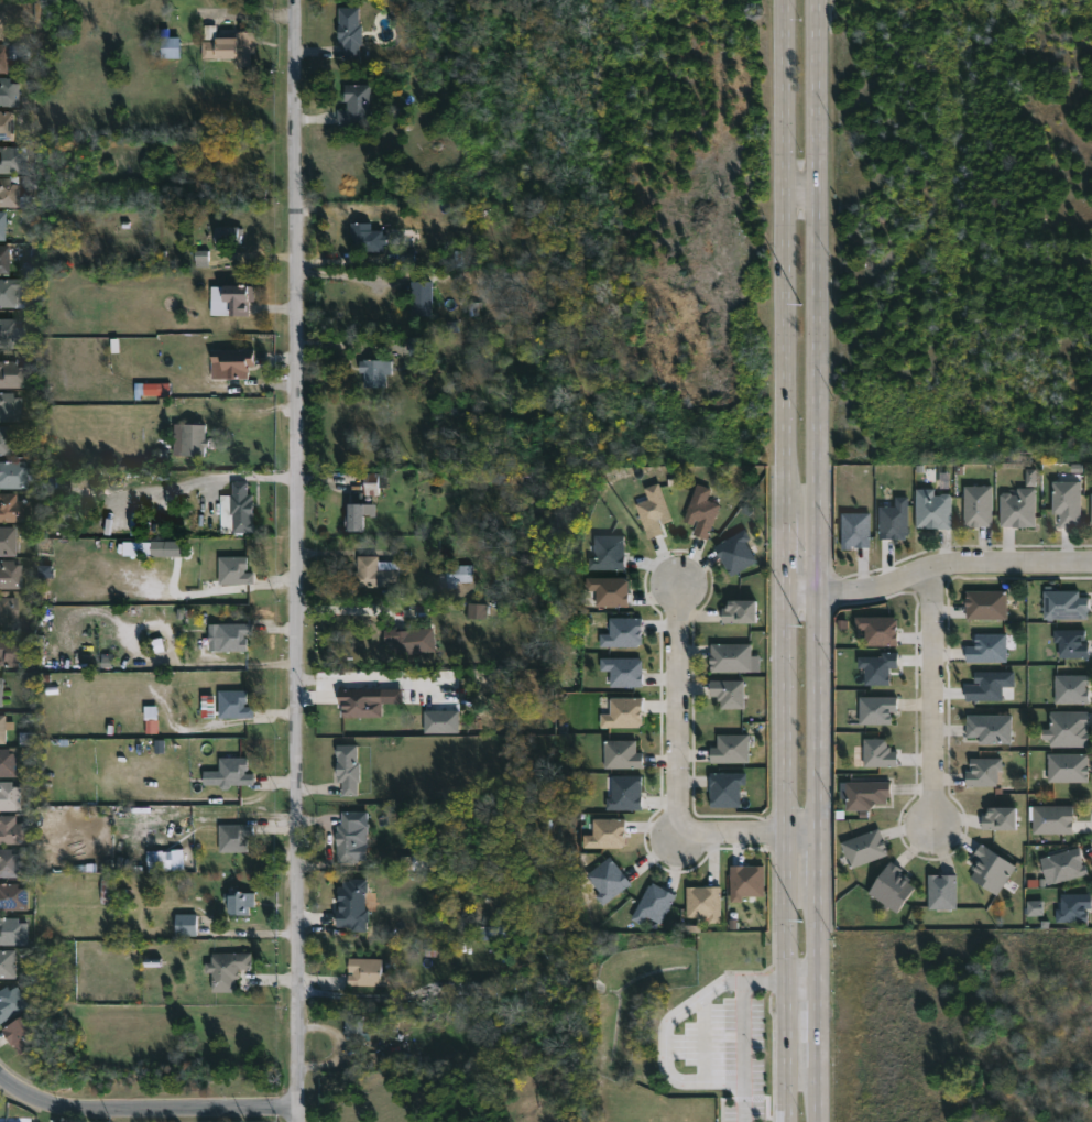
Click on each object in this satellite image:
building: (2, 24)
building: (348, 31)
building: (209, 33)
building: (172, 47)
building: (236, 48)
building: (3, 58)
building: (10, 92)
building: (354, 106)
building: (7, 126)
building: (13, 161)
road: (802, 187)
building: (11, 194)
building: (3, 225)
building: (223, 235)
building: (364, 238)
building: (200, 259)
building: (6, 261)
road: (347, 274)
building: (9, 294)
road: (786, 296)
road: (818, 296)
building: (418, 298)
building: (234, 301)
building: (14, 333)
building: (230, 363)
building: (372, 372)
building: (14, 374)
building: (154, 389)
building: (12, 407)
building: (197, 438)
building: (7, 440)
building: (14, 476)
building: (1029, 478)
road: (203, 480)
building: (374, 483)
building: (1066, 502)
building: (975, 505)
building: (931, 508)
building: (14, 509)
building: (242, 509)
building: (1017, 509)
building: (653, 511)
building: (1091, 511)
building: (701, 512)
building: (356, 513)
building: (894, 521)
building: (855, 531)
building: (9, 541)
building: (152, 548)
building: (608, 553)
building: (735, 553)
road: (294, 560)
road: (952, 564)
building: (232, 569)
building: (45, 571)
building: (375, 571)
building: (455, 574)
building: (11, 575)
building: (609, 591)
road: (801, 593)
building: (985, 603)
building: (1063, 603)
building: (9, 609)
road: (353, 609)
building: (738, 610)
building: (480, 611)
building: (878, 630)
building: (622, 633)
building: (232, 635)
building: (397, 640)
building: (1070, 642)
building: (986, 647)
building: (12, 651)
building: (729, 656)
building: (877, 668)
building: (623, 672)
building: (989, 686)
building: (1070, 688)
building: (2, 691)
building: (727, 693)
road: (933, 698)
building: (367, 701)
building: (233, 704)
building: (875, 708)
building: (623, 713)
road: (818, 713)
building: (440, 721)
building: (4, 728)
building: (989, 728)
building: (1066, 729)
building: (729, 748)
building: (877, 753)
building: (620, 754)
building: (11, 762)
building: (1067, 767)
building: (346, 769)
building: (231, 771)
building: (982, 771)
road: (679, 775)
building: (725, 789)
building: (625, 793)
building: (863, 794)
building: (12, 796)
building: (997, 818)
building: (1051, 818)
building: (14, 830)
building: (605, 834)
building: (347, 835)
building: (232, 837)
building: (863, 848)
road: (786, 858)
road: (819, 859)
building: (165, 861)
building: (422, 861)
building: (12, 862)
building: (1062, 867)
building: (992, 870)
building: (608, 881)
building: (745, 882)
building: (891, 887)
building: (941, 891)
building: (15, 897)
building: (236, 902)
building: (703, 903)
building: (653, 904)
building: (352, 905)
building: (1072, 907)
building: (1035, 908)
building: (183, 925)
building: (13, 932)
road: (820, 940)
building: (9, 963)
building: (225, 970)
building: (364, 972)
road: (804, 998)
building: (12, 1003)
building: (353, 1026)
road: (743, 1031)
road: (820, 1032)
building: (23, 1035)
road: (664, 1041)
road: (820, 1093)
road: (144, 1109)

